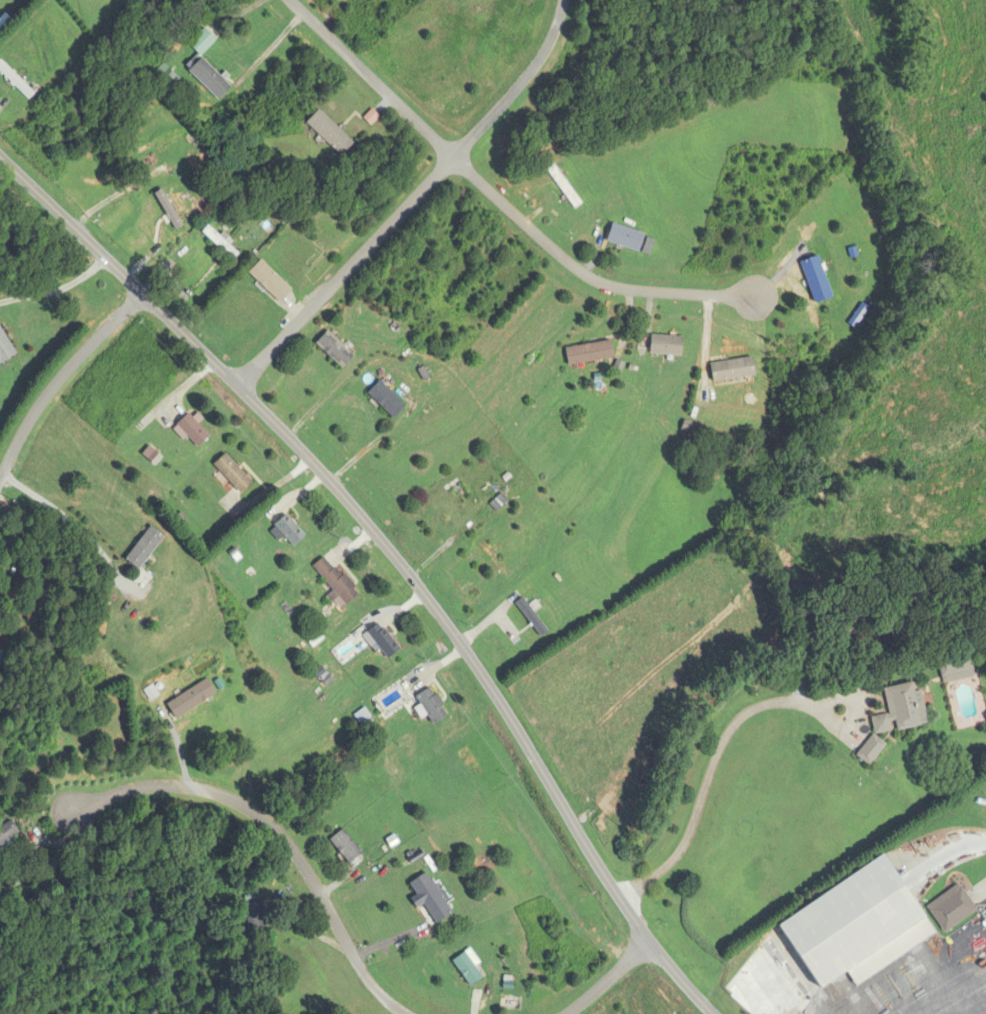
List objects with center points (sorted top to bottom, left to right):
building: (3, 21)
road: (271, 46)
road: (372, 78)
building: (209, 79)
building: (15, 81)
building: (329, 133)
building: (563, 186)
road: (411, 201)
building: (167, 210)
building: (630, 239)
building: (221, 243)
road: (586, 273)
building: (815, 279)
building: (269, 281)
building: (471, 283)
building: (665, 345)
building: (5, 349)
building: (334, 349)
building: (589, 353)
building: (731, 370)
road: (62, 384)
building: (386, 399)
building: (144, 423)
building: (192, 430)
building: (232, 474)
road: (83, 519)
building: (289, 530)
building: (143, 547)
road: (391, 555)
building: (335, 583)
building: (36, 601)
building: (531, 617)
building: (313, 638)
building: (383, 641)
building: (0, 652)
building: (955, 666)
building: (190, 699)
building: (431, 705)
building: (895, 717)
road: (709, 769)
road: (278, 833)
building: (7, 834)
building: (345, 846)
building: (430, 898)
building: (951, 908)
building: (254, 916)
building: (858, 927)
building: (466, 969)
road: (605, 979)
road: (945, 993)

